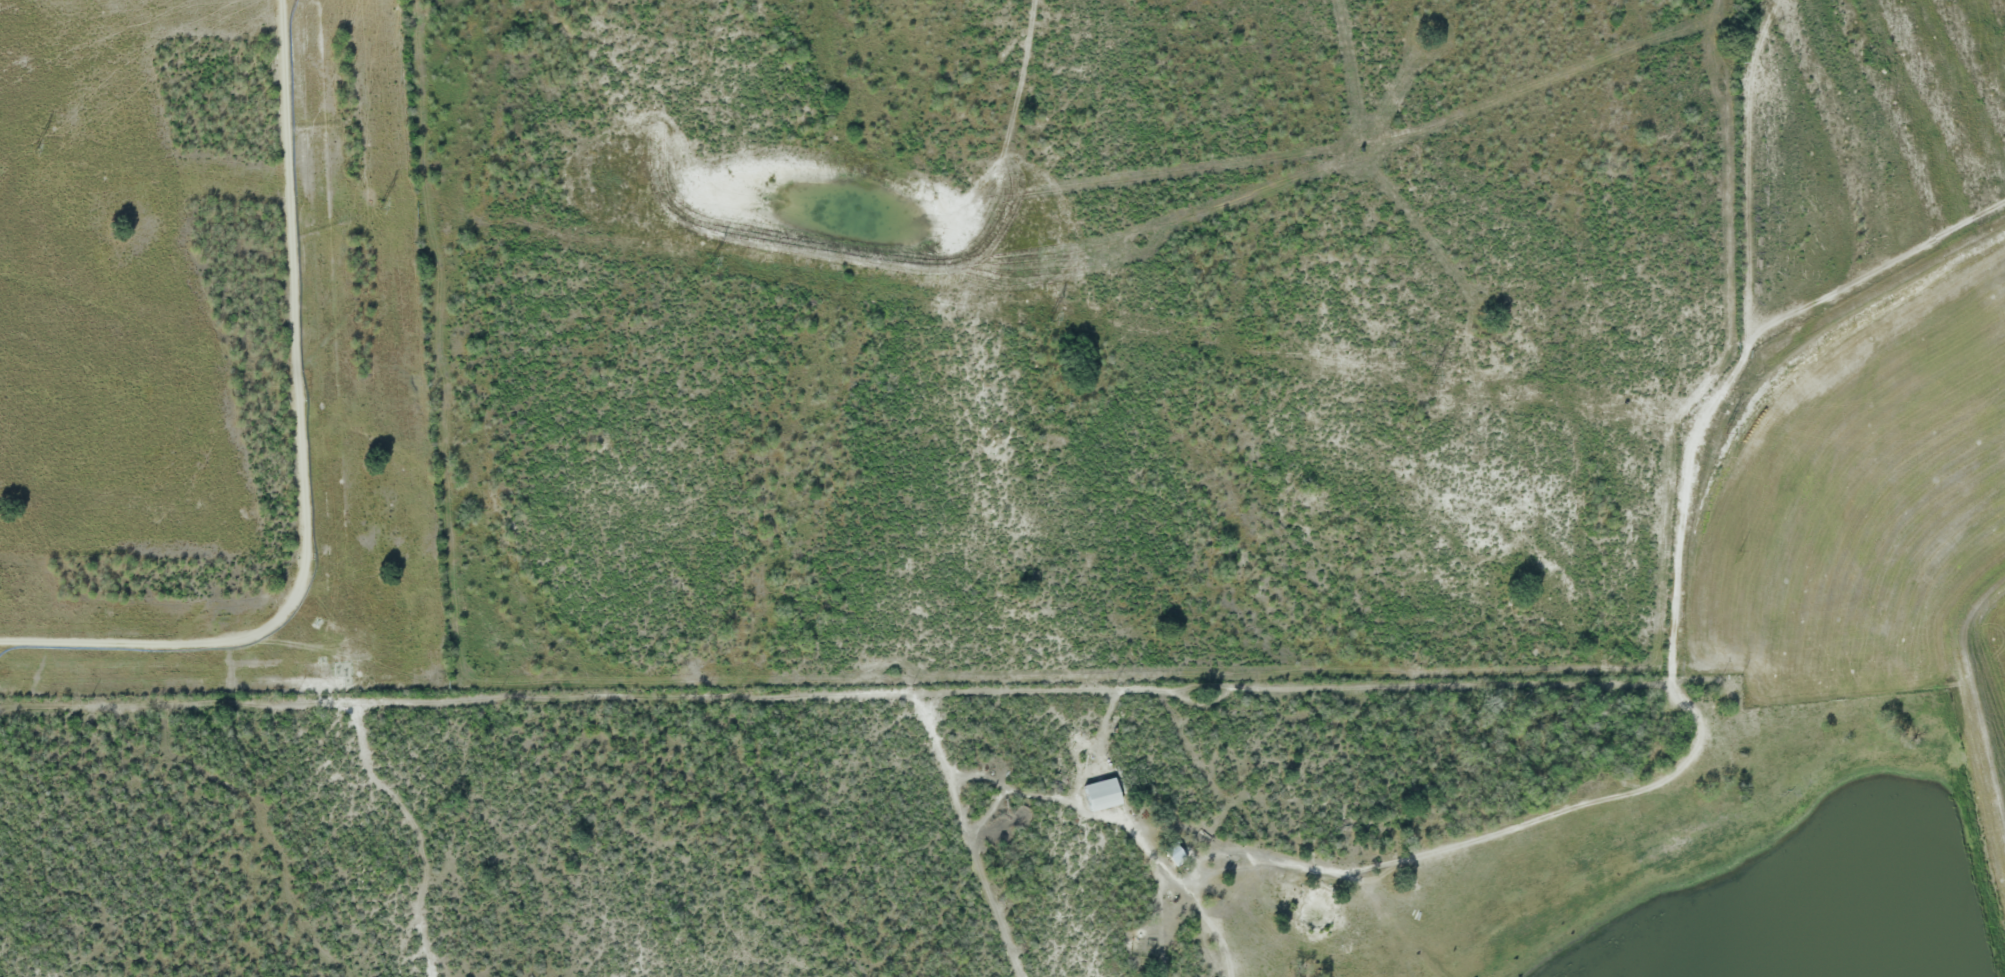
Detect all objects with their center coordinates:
power tower: (35, 149)
power tower: (381, 207)
power tower: (707, 261)
power tower: (1048, 318)
power tower: (1427, 381)
power tower: (1724, 428)
dam: (1985, 712)
building: (1099, 796)
building: (1172, 856)

